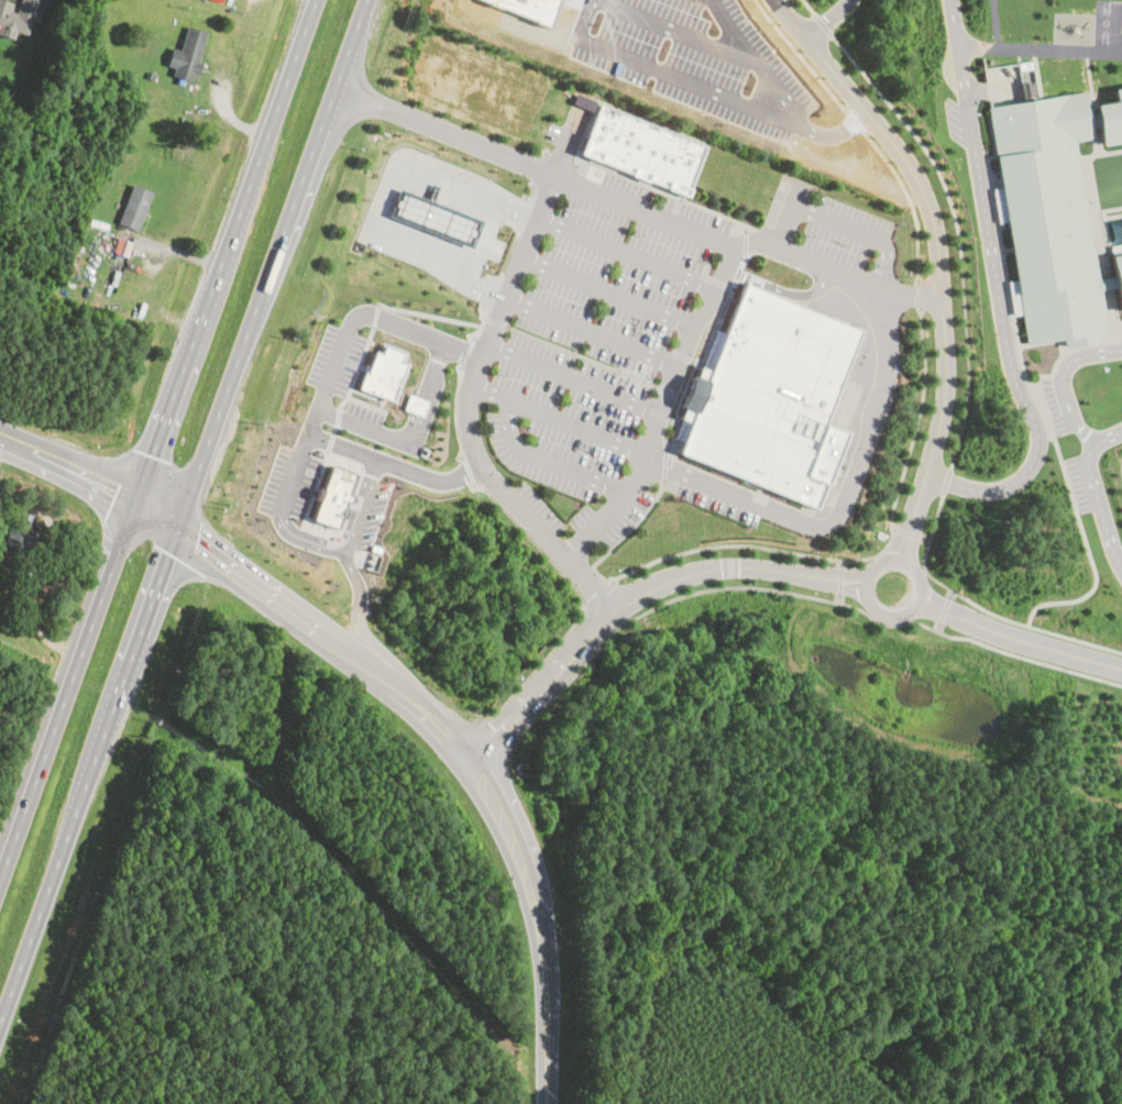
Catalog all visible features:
road: (811, 7)
building: (527, 9)
building: (14, 16)
road: (827, 20)
road: (823, 23)
road: (997, 23)
road: (678, 31)
road: (1041, 47)
building: (188, 53)
road: (758, 64)
building: (152, 75)
road: (708, 86)
building: (184, 118)
road: (235, 118)
building: (1111, 118)
road: (866, 130)
building: (643, 147)
road: (546, 152)
road: (388, 189)
road: (662, 190)
building: (435, 191)
road: (535, 194)
building: (134, 206)
road: (522, 210)
building: (1048, 213)
building: (437, 217)
gas station: (437, 217)
road: (845, 225)
road: (935, 228)
parking lot: (845, 231)
road: (957, 232)
road: (485, 239)
road: (746, 240)
road: (175, 250)
road: (513, 250)
road: (812, 261)
building: (1118, 276)
road: (609, 289)
road: (487, 290)
road: (908, 291)
road: (998, 291)
road: (921, 292)
building: (1015, 297)
road: (375, 314)
road: (431, 314)
road: (496, 321)
road: (484, 322)
road: (341, 345)
road: (563, 347)
road: (704, 352)
road: (469, 353)
parking lot: (608, 358)
road: (356, 367)
building: (384, 373)
road: (475, 373)
road: (573, 379)
road: (650, 383)
road: (430, 394)
road: (1064, 394)
building: (769, 395)
road: (365, 402)
building: (415, 404)
road: (661, 408)
road: (457, 411)
road: (1044, 412)
road: (559, 416)
road: (338, 417)
road: (312, 421)
road: (157, 439)
traffic signals: (153, 453)
road: (547, 459)
road: (394, 464)
road: (663, 464)
road: (465, 471)
road: (92, 472)
road: (294, 475)
road: (948, 481)
traffic signals: (119, 483)
building: (333, 496)
road: (362, 505)
road: (1099, 505)
road: (183, 510)
road: (898, 529)
building: (20, 531)
road: (911, 533)
road: (905, 534)
road: (340, 537)
road: (915, 537)
road: (927, 538)
traffic signals: (197, 541)
road: (310, 541)
traffic signals: (168, 552)
road: (803, 552)
road: (842, 562)
road: (893, 562)
road: (843, 574)
road: (842, 578)
road: (839, 584)
road: (789, 590)
road: (953, 593)
road: (597, 596)
road: (840, 597)
road: (356, 599)
road: (582, 601)
road: (946, 603)
road: (610, 606)
road: (982, 606)
road: (946, 608)
road: (943, 614)
road: (941, 626)
road: (54, 642)
road: (1046, 644)
road: (491, 736)
road: (465, 753)

